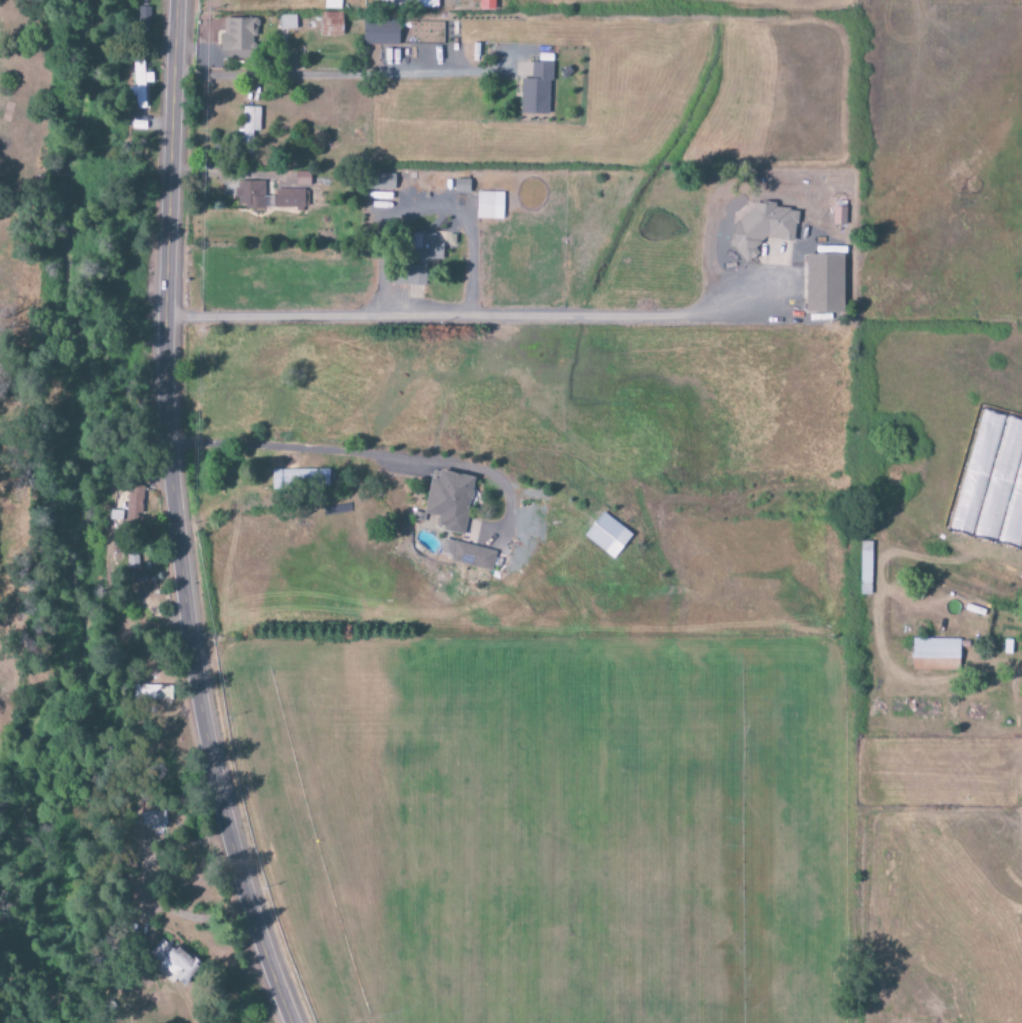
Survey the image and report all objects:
building: (332, 4)
building: (408, 4)
building: (486, 5)
building: (286, 22)
building: (331, 24)
building: (380, 32)
building: (238, 38)
building: (140, 84)
building: (535, 90)
building: (250, 119)
building: (302, 179)
building: (382, 182)
building: (461, 186)
building: (249, 194)
building: (290, 199)
building: (489, 206)
building: (838, 215)
building: (762, 228)
building: (421, 258)
building: (824, 283)
road: (482, 304)
building: (300, 479)
building: (129, 500)
building: (449, 501)
road: (175, 518)
building: (607, 535)
building: (468, 555)
building: (935, 655)
road: (1019, 671)
building: (152, 693)
building: (154, 820)
building: (173, 964)

